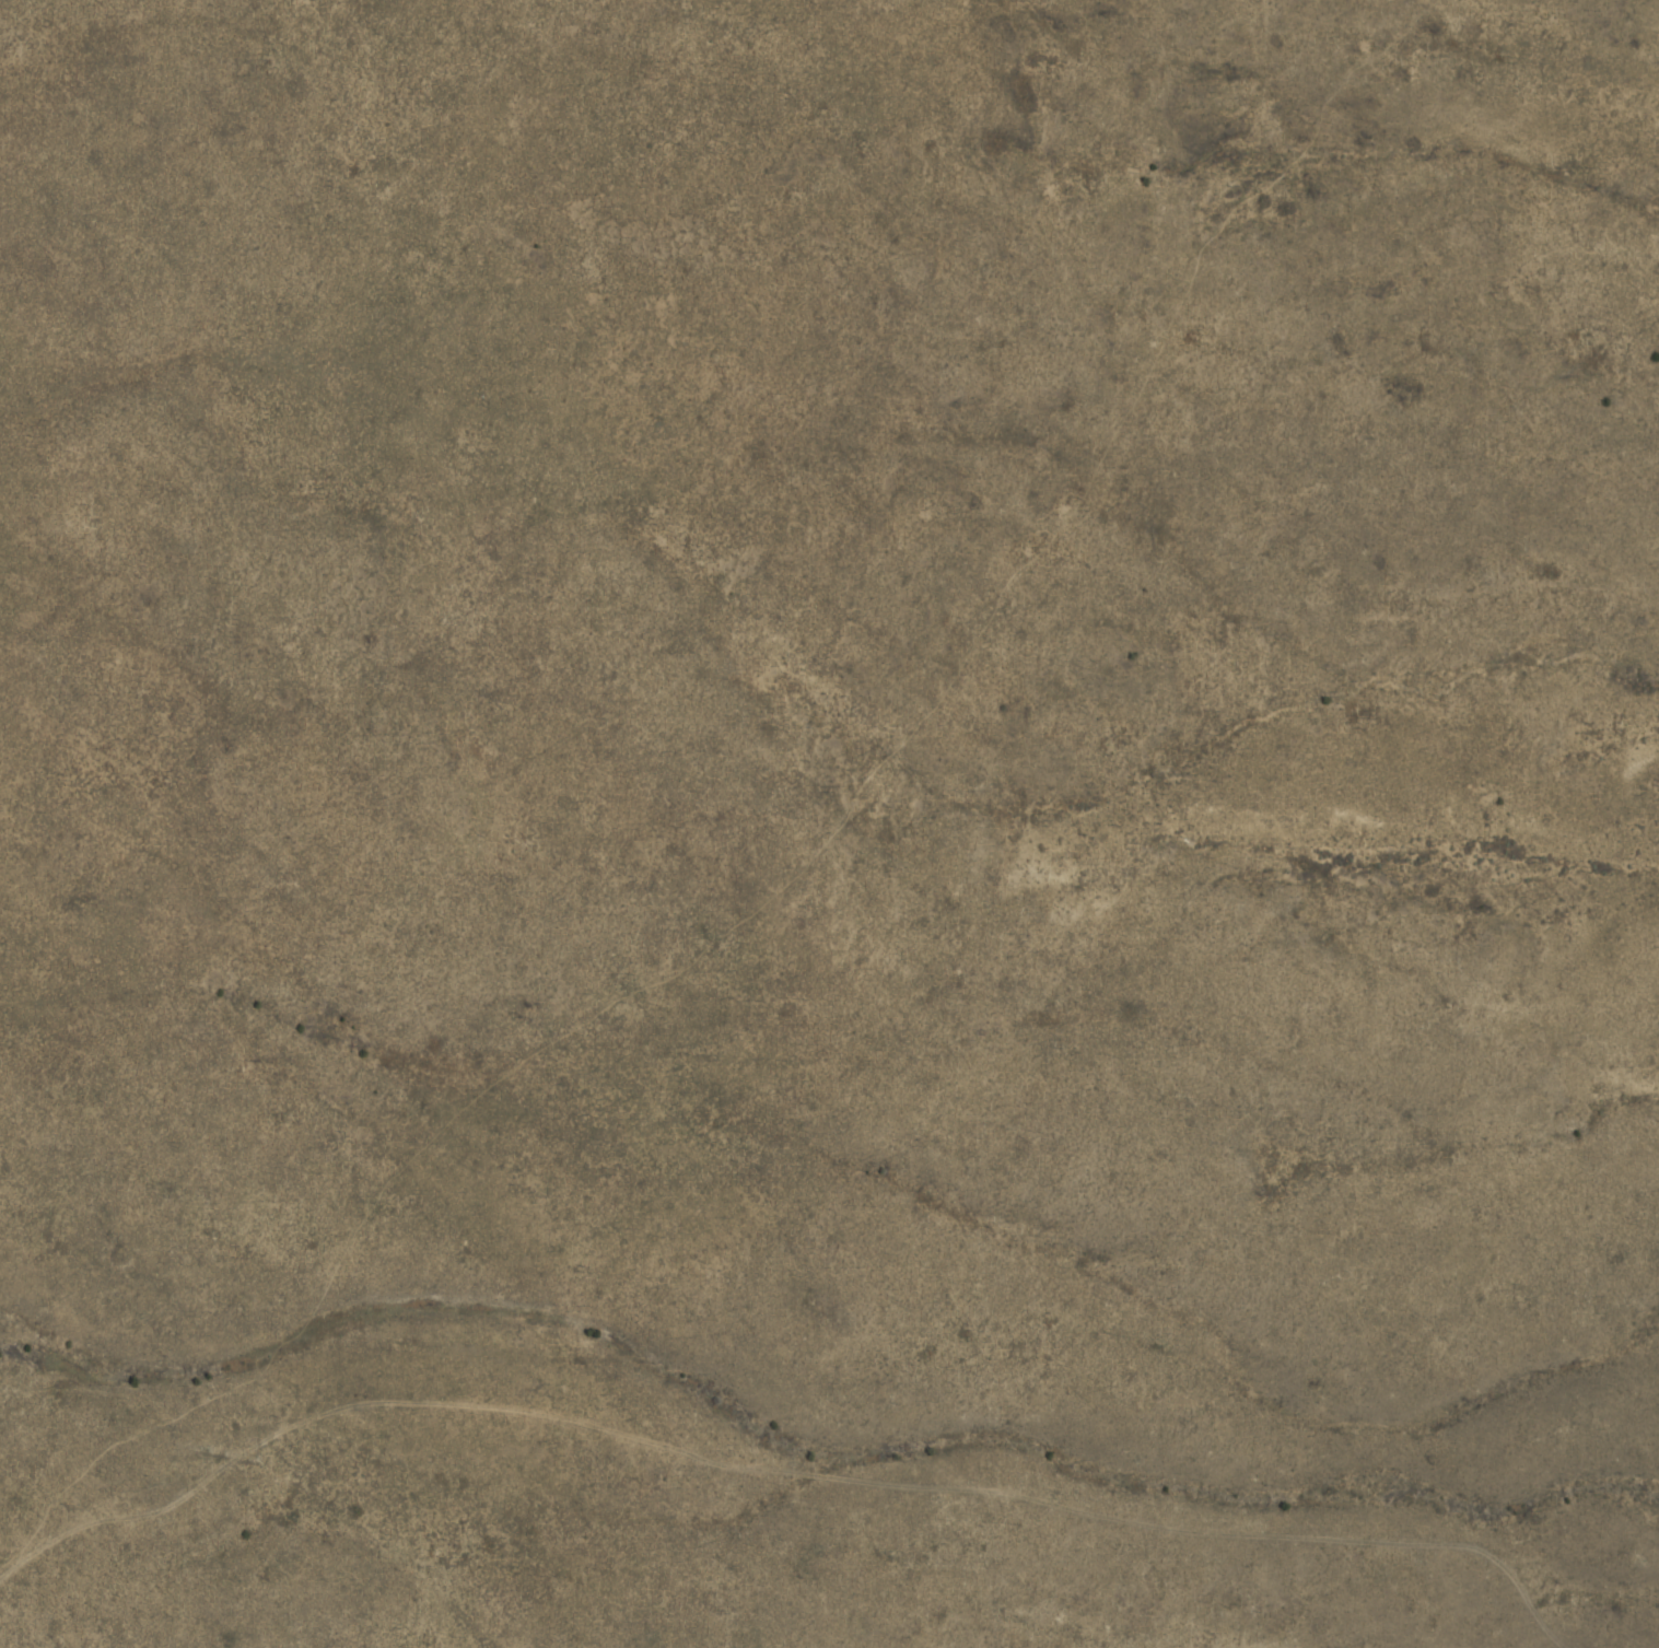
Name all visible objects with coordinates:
road: (783, 1471)

